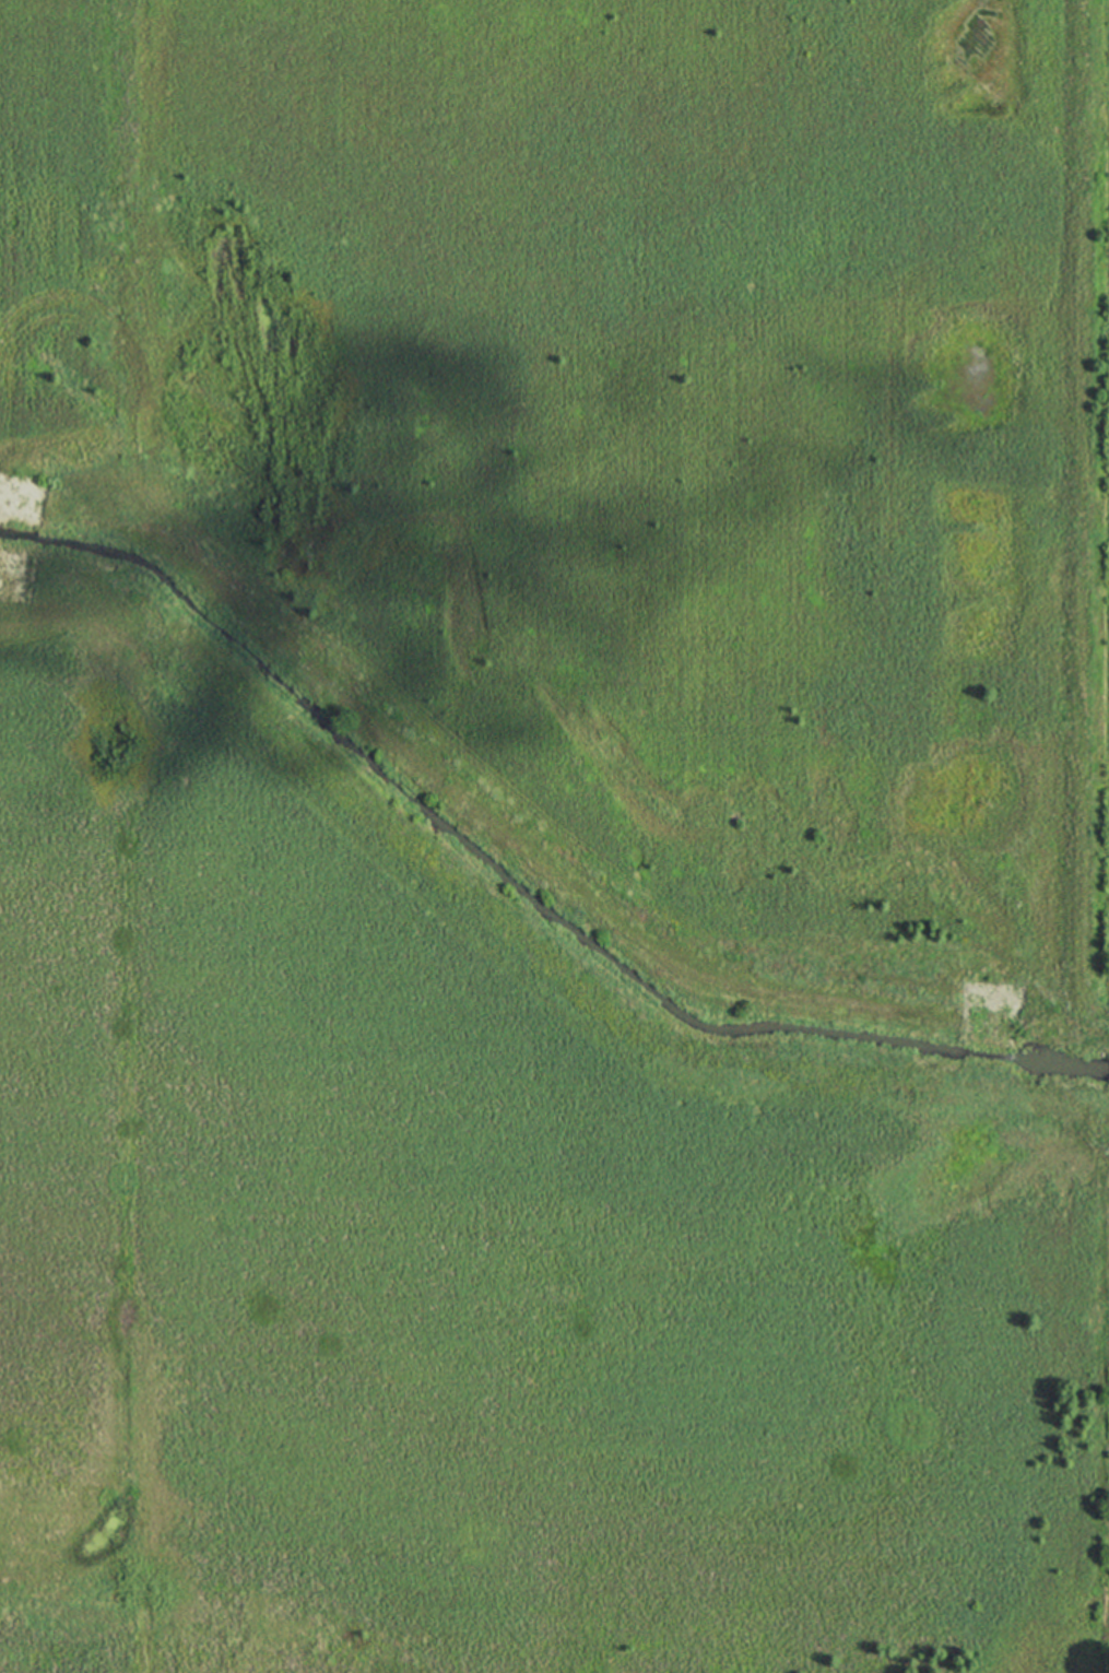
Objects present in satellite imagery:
road: (741, 986)
parking lot: (993, 1012)

